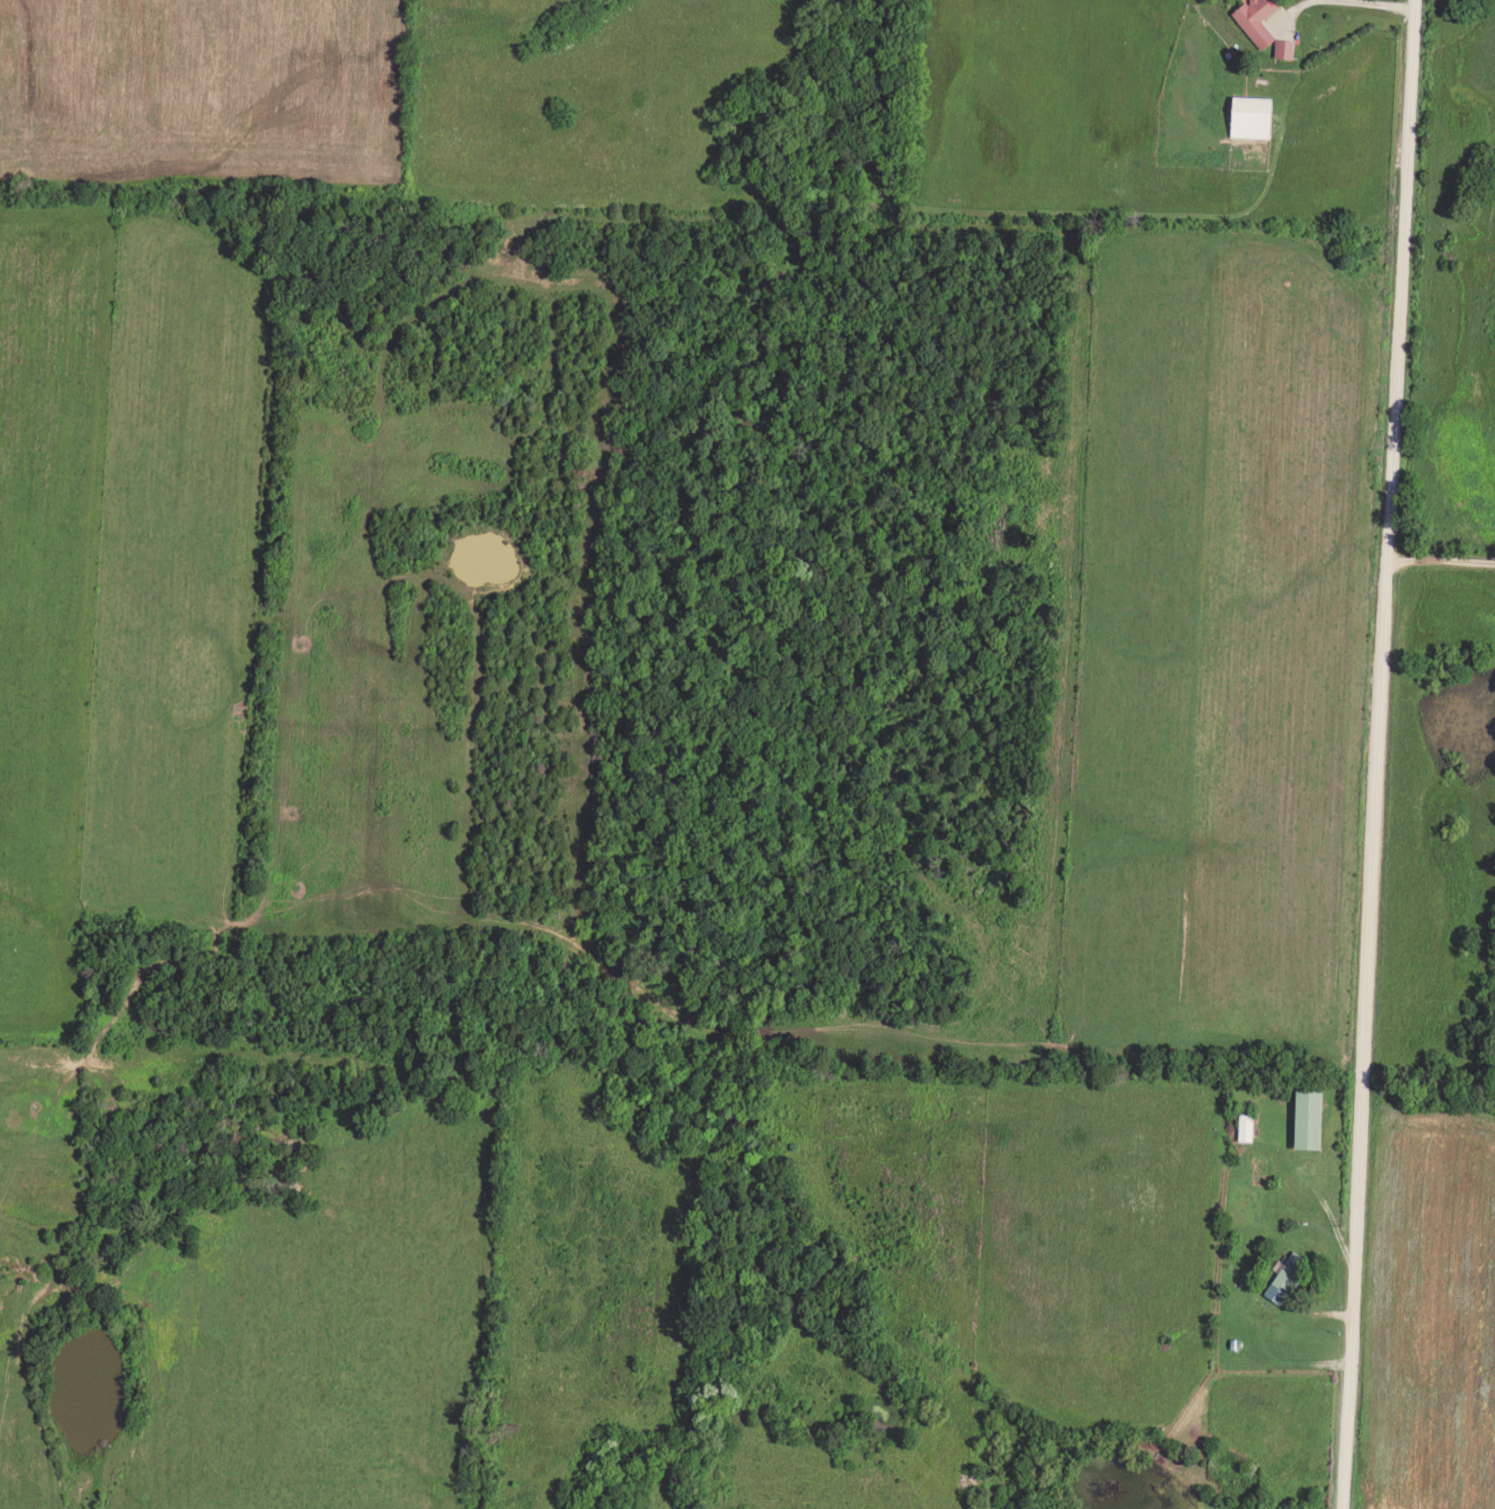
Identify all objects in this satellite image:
road: (1338, 0)
building: (1257, 18)
building: (1286, 46)
road: (1351, 71)
building: (1253, 115)
road: (1441, 560)
road: (1378, 754)
building: (1312, 1116)
road: (1324, 1200)
building: (1288, 1275)
road: (1261, 1332)

